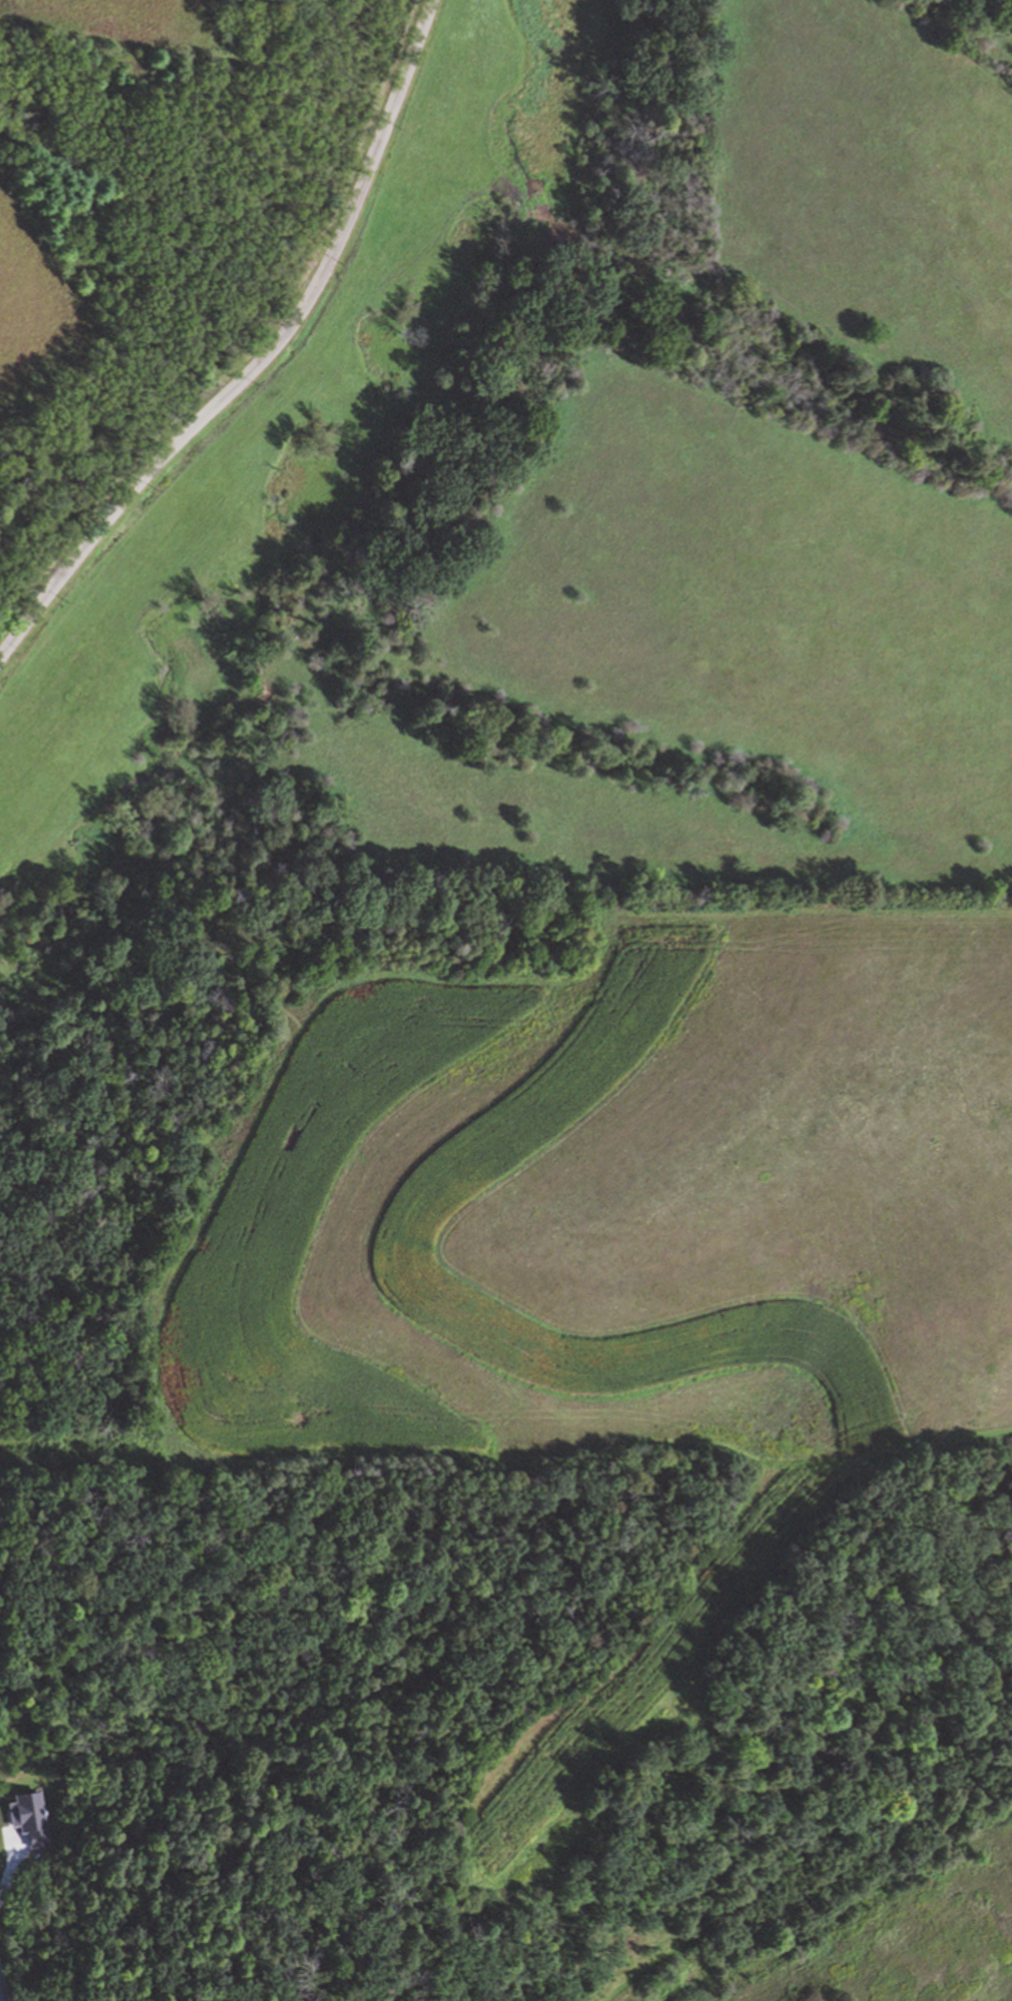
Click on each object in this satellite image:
road: (262, 356)
building: (29, 1839)

